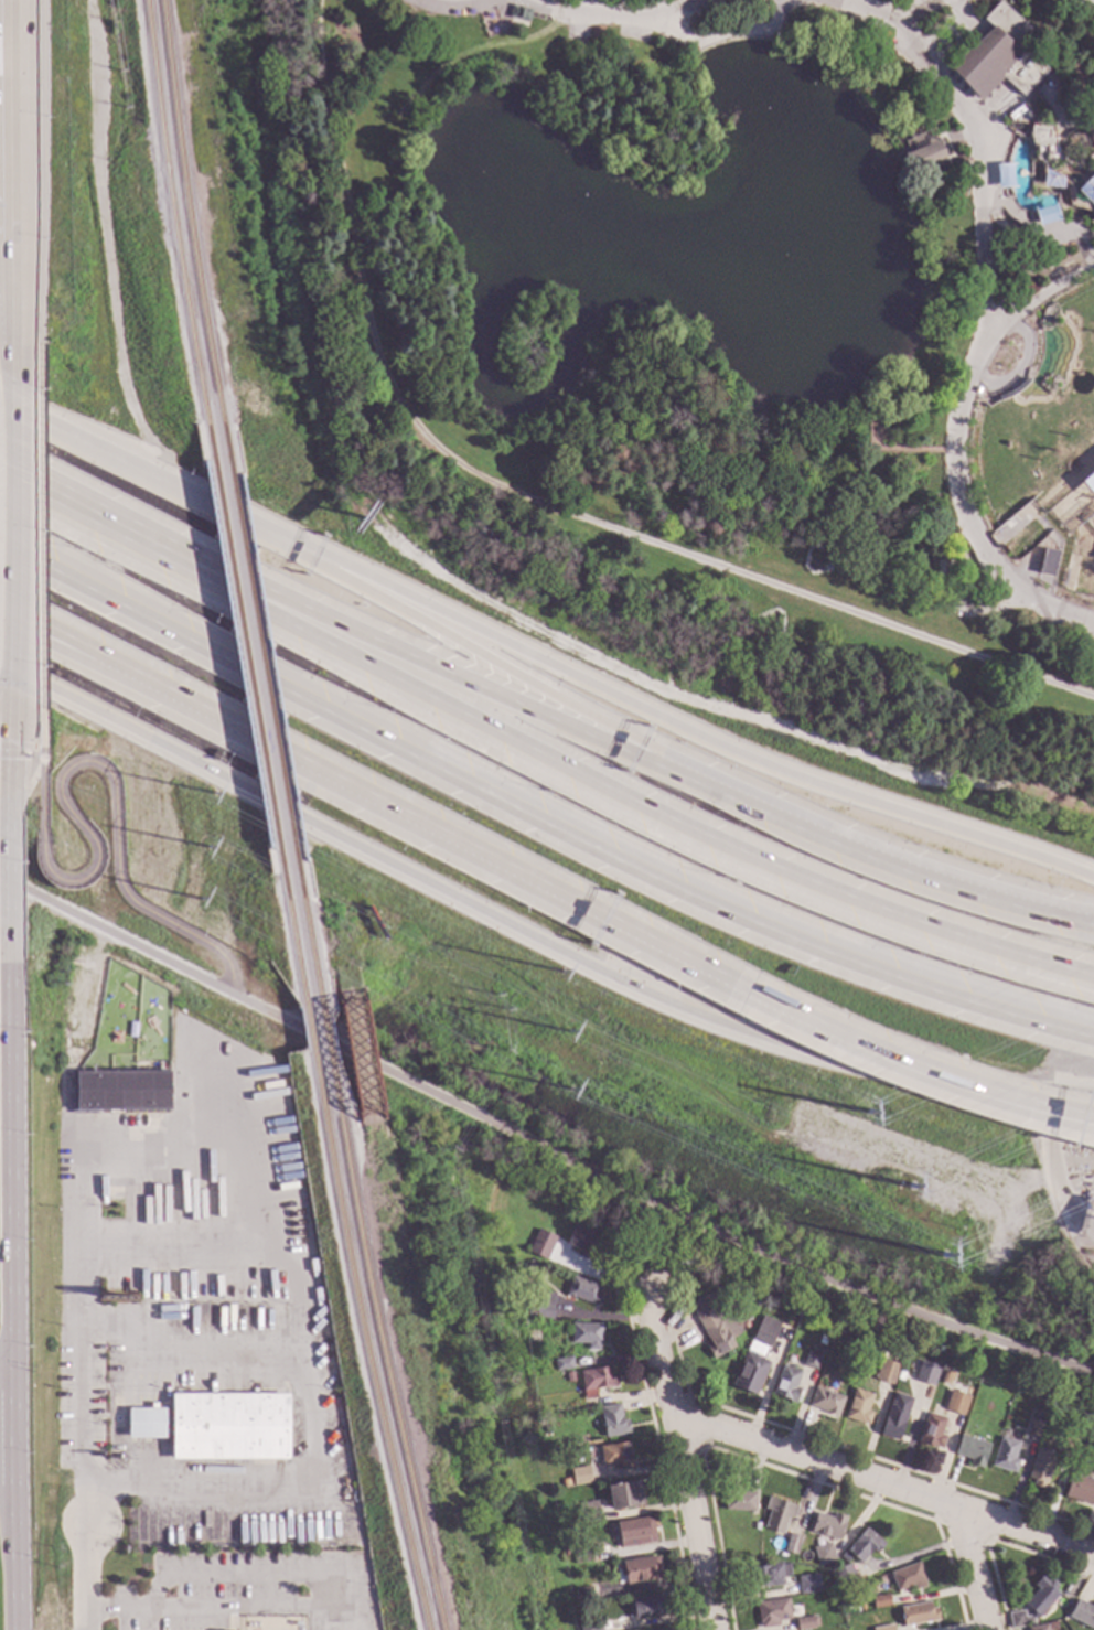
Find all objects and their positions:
building: (518, 13)
road: (913, 13)
road: (622, 19)
road: (725, 36)
road: (475, 52)
building: (997, 56)
road: (15, 97)
building: (1012, 112)
road: (1057, 116)
road: (964, 138)
building: (1062, 149)
building: (926, 158)
road: (43, 173)
building: (1004, 176)
building: (1045, 214)
road: (15, 225)
railway: (178, 227)
road: (1030, 227)
railway: (196, 234)
road: (1083, 254)
road: (1040, 299)
road: (989, 310)
road: (14, 311)
road: (898, 449)
road: (160, 483)
building: (1088, 483)
railway: (538, 502)
road: (105, 521)
road: (39, 526)
road: (14, 527)
building: (1048, 564)
building: (927, 571)
road: (995, 607)
road: (50, 633)
road: (49, 644)
building: (1086, 648)
road: (497, 664)
railway: (248, 665)
railway: (264, 668)
road: (443, 671)
traffic signals: (14, 687)
road: (7, 691)
road: (40, 728)
road: (699, 736)
road: (20, 748)
road: (11, 750)
road: (79, 762)
road: (24, 787)
power tower: (221, 798)
road: (639, 806)
road: (535, 821)
road: (421, 825)
power tower: (227, 836)
road: (880, 858)
road: (8, 878)
power tower: (216, 889)
road: (526, 940)
railway: (294, 941)
railway: (309, 942)
power tower: (561, 974)
railway: (309, 1030)
power tower: (569, 1030)
railway: (325, 1039)
railway: (355, 1048)
road: (903, 1061)
building: (118, 1091)
power tower: (570, 1091)
power tower: (876, 1117)
road: (1082, 1118)
road: (1082, 1120)
road: (537, 1146)
road: (10, 1150)
power tower: (915, 1187)
road: (1062, 1190)
railway: (1055, 1213)
road: (83, 1233)
road: (632, 1238)
building: (582, 1243)
building: (541, 1244)
building: (528, 1266)
power tower: (958, 1269)
building: (583, 1291)
building: (795, 1302)
building: (541, 1306)
building: (715, 1323)
building: (765, 1331)
building: (587, 1334)
railway: (363, 1342)
railway: (379, 1347)
building: (820, 1347)
building: (757, 1350)
road: (6, 1358)
building: (812, 1361)
building: (564, 1363)
building: (887, 1372)
building: (750, 1373)
building: (926, 1373)
building: (569, 1376)
building: (946, 1376)
building: (597, 1381)
building: (787, 1384)
building: (826, 1402)
building: (956, 1403)
building: (859, 1407)
building: (895, 1416)
building: (613, 1422)
building: (146, 1424)
road: (309, 1425)
building: (229, 1427)
building: (1033, 1427)
building: (932, 1430)
building: (1069, 1443)
building: (972, 1450)
road: (684, 1454)
building: (618, 1455)
building: (1006, 1455)
building: (1041, 1468)
building: (581, 1476)
building: (566, 1482)
road: (887, 1482)
building: (1080, 1490)
road: (14, 1493)
building: (624, 1495)
building: (739, 1499)
building: (589, 1511)
building: (777, 1514)
building: (828, 1525)
building: (757, 1526)
building: (635, 1532)
building: (793, 1544)
building: (864, 1545)
building: (568, 1552)
building: (582, 1553)
building: (824, 1553)
road: (975, 1568)
building: (640, 1569)
building: (768, 1575)
building: (845, 1575)
building: (909, 1577)
road: (90, 1578)
building: (808, 1584)
road: (154, 1591)
building: (583, 1594)
building: (1042, 1596)
building: (880, 1600)
building: (648, 1606)
road: (326, 1609)
building: (773, 1611)
building: (918, 1613)
building: (1082, 1613)
building: (1019, 1619)
building: (806, 1623)
building: (590, 1624)
building: (1039, 1627)
building: (575, 1628)
building: (884, 1628)

